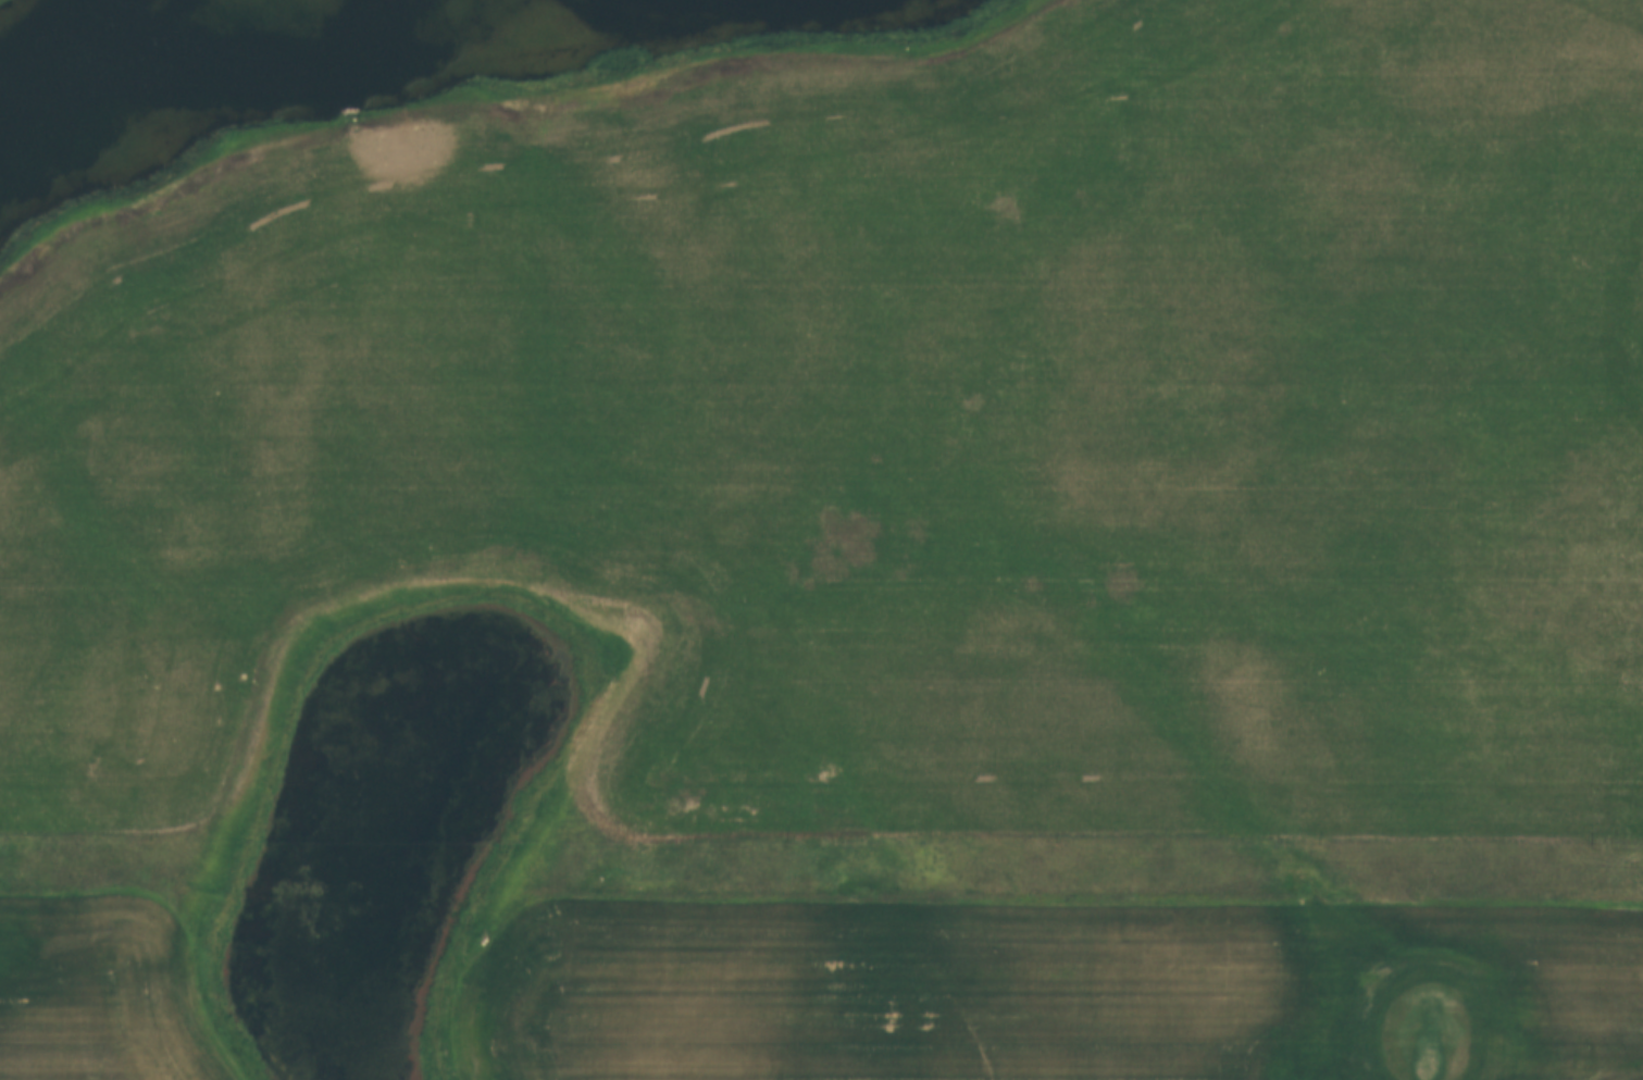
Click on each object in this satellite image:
road: (89, 889)

